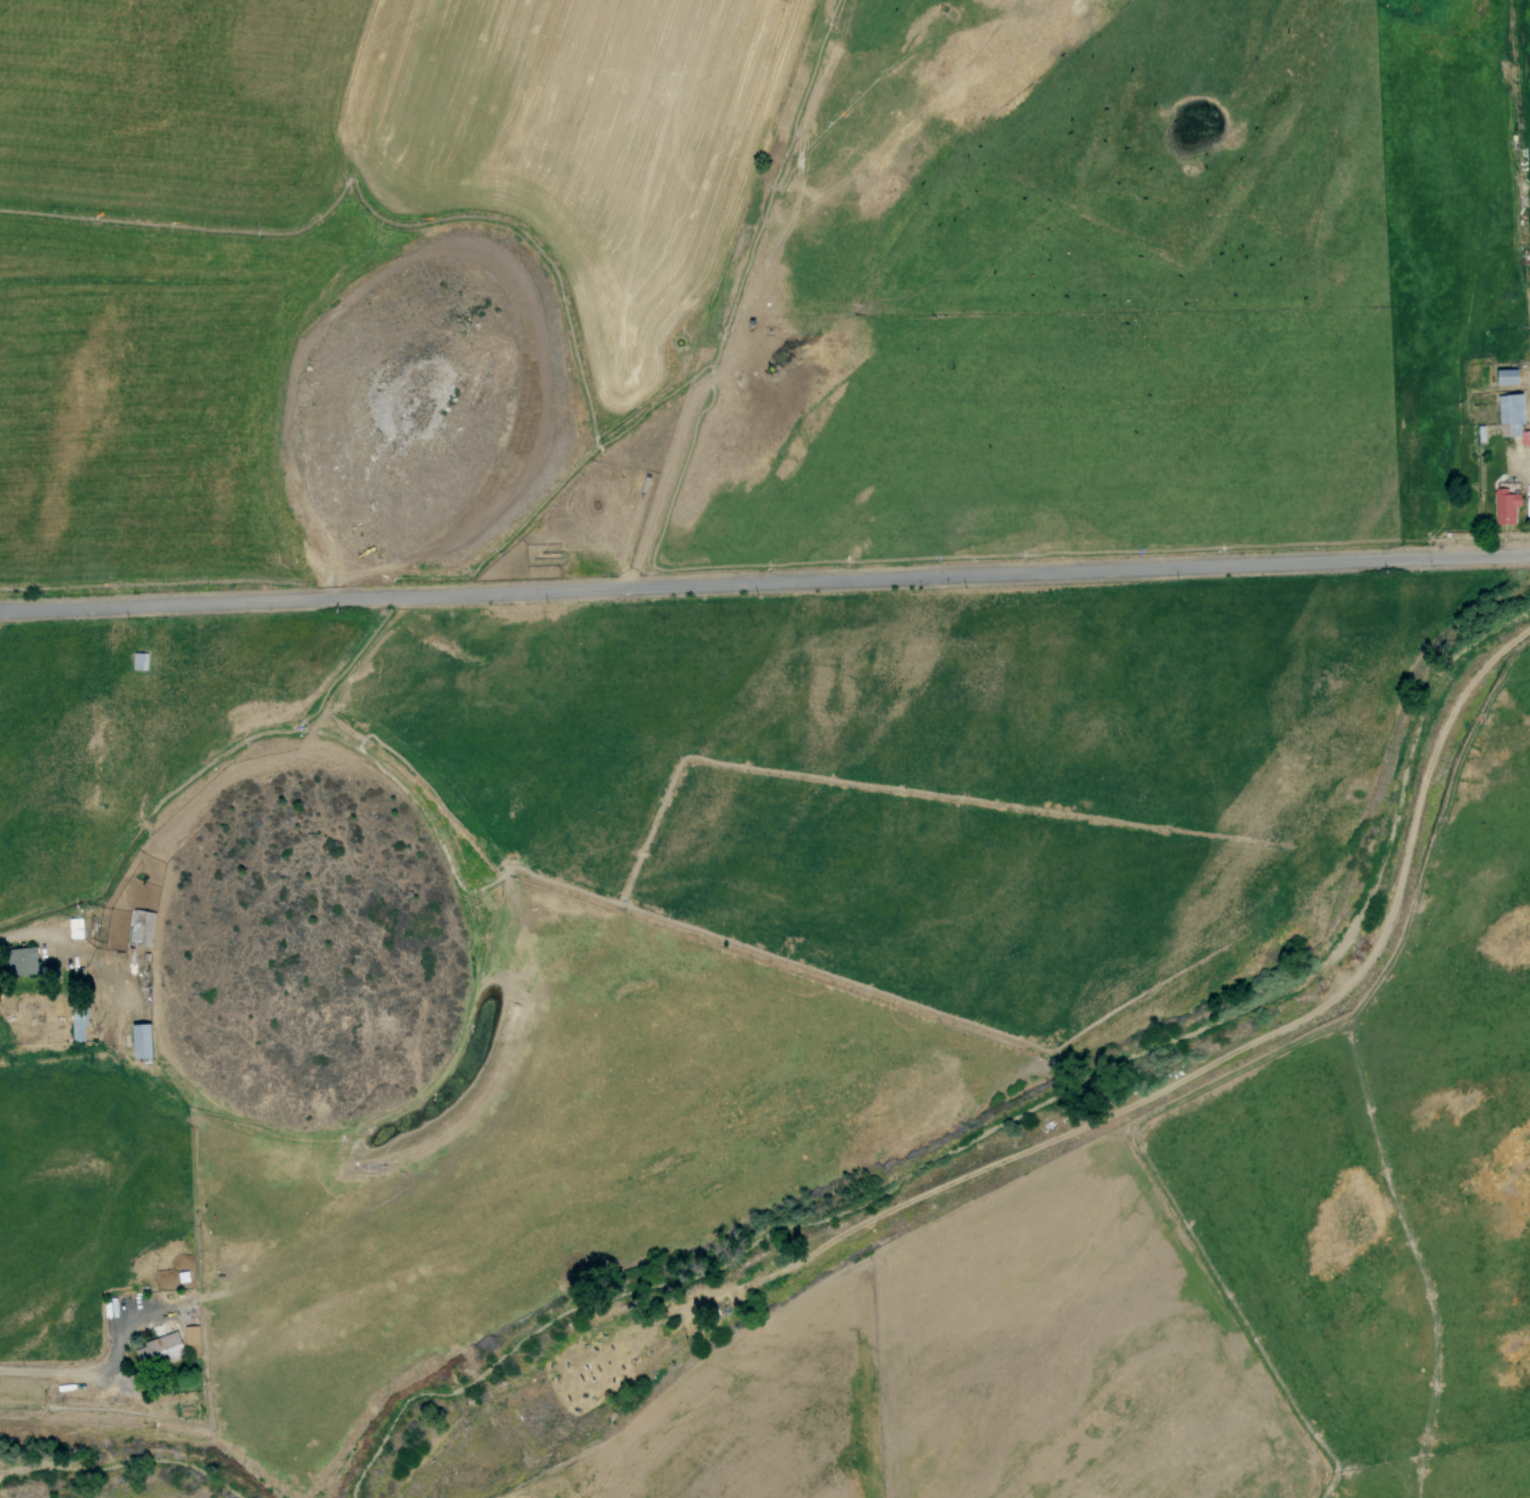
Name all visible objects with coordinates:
building: (1504, 376)
building: (1509, 414)
building: (1503, 506)
road: (764, 581)
building: (73, 928)
building: (17, 959)
building: (138, 1041)
building: (189, 1335)
building: (157, 1350)
road: (61, 1376)

